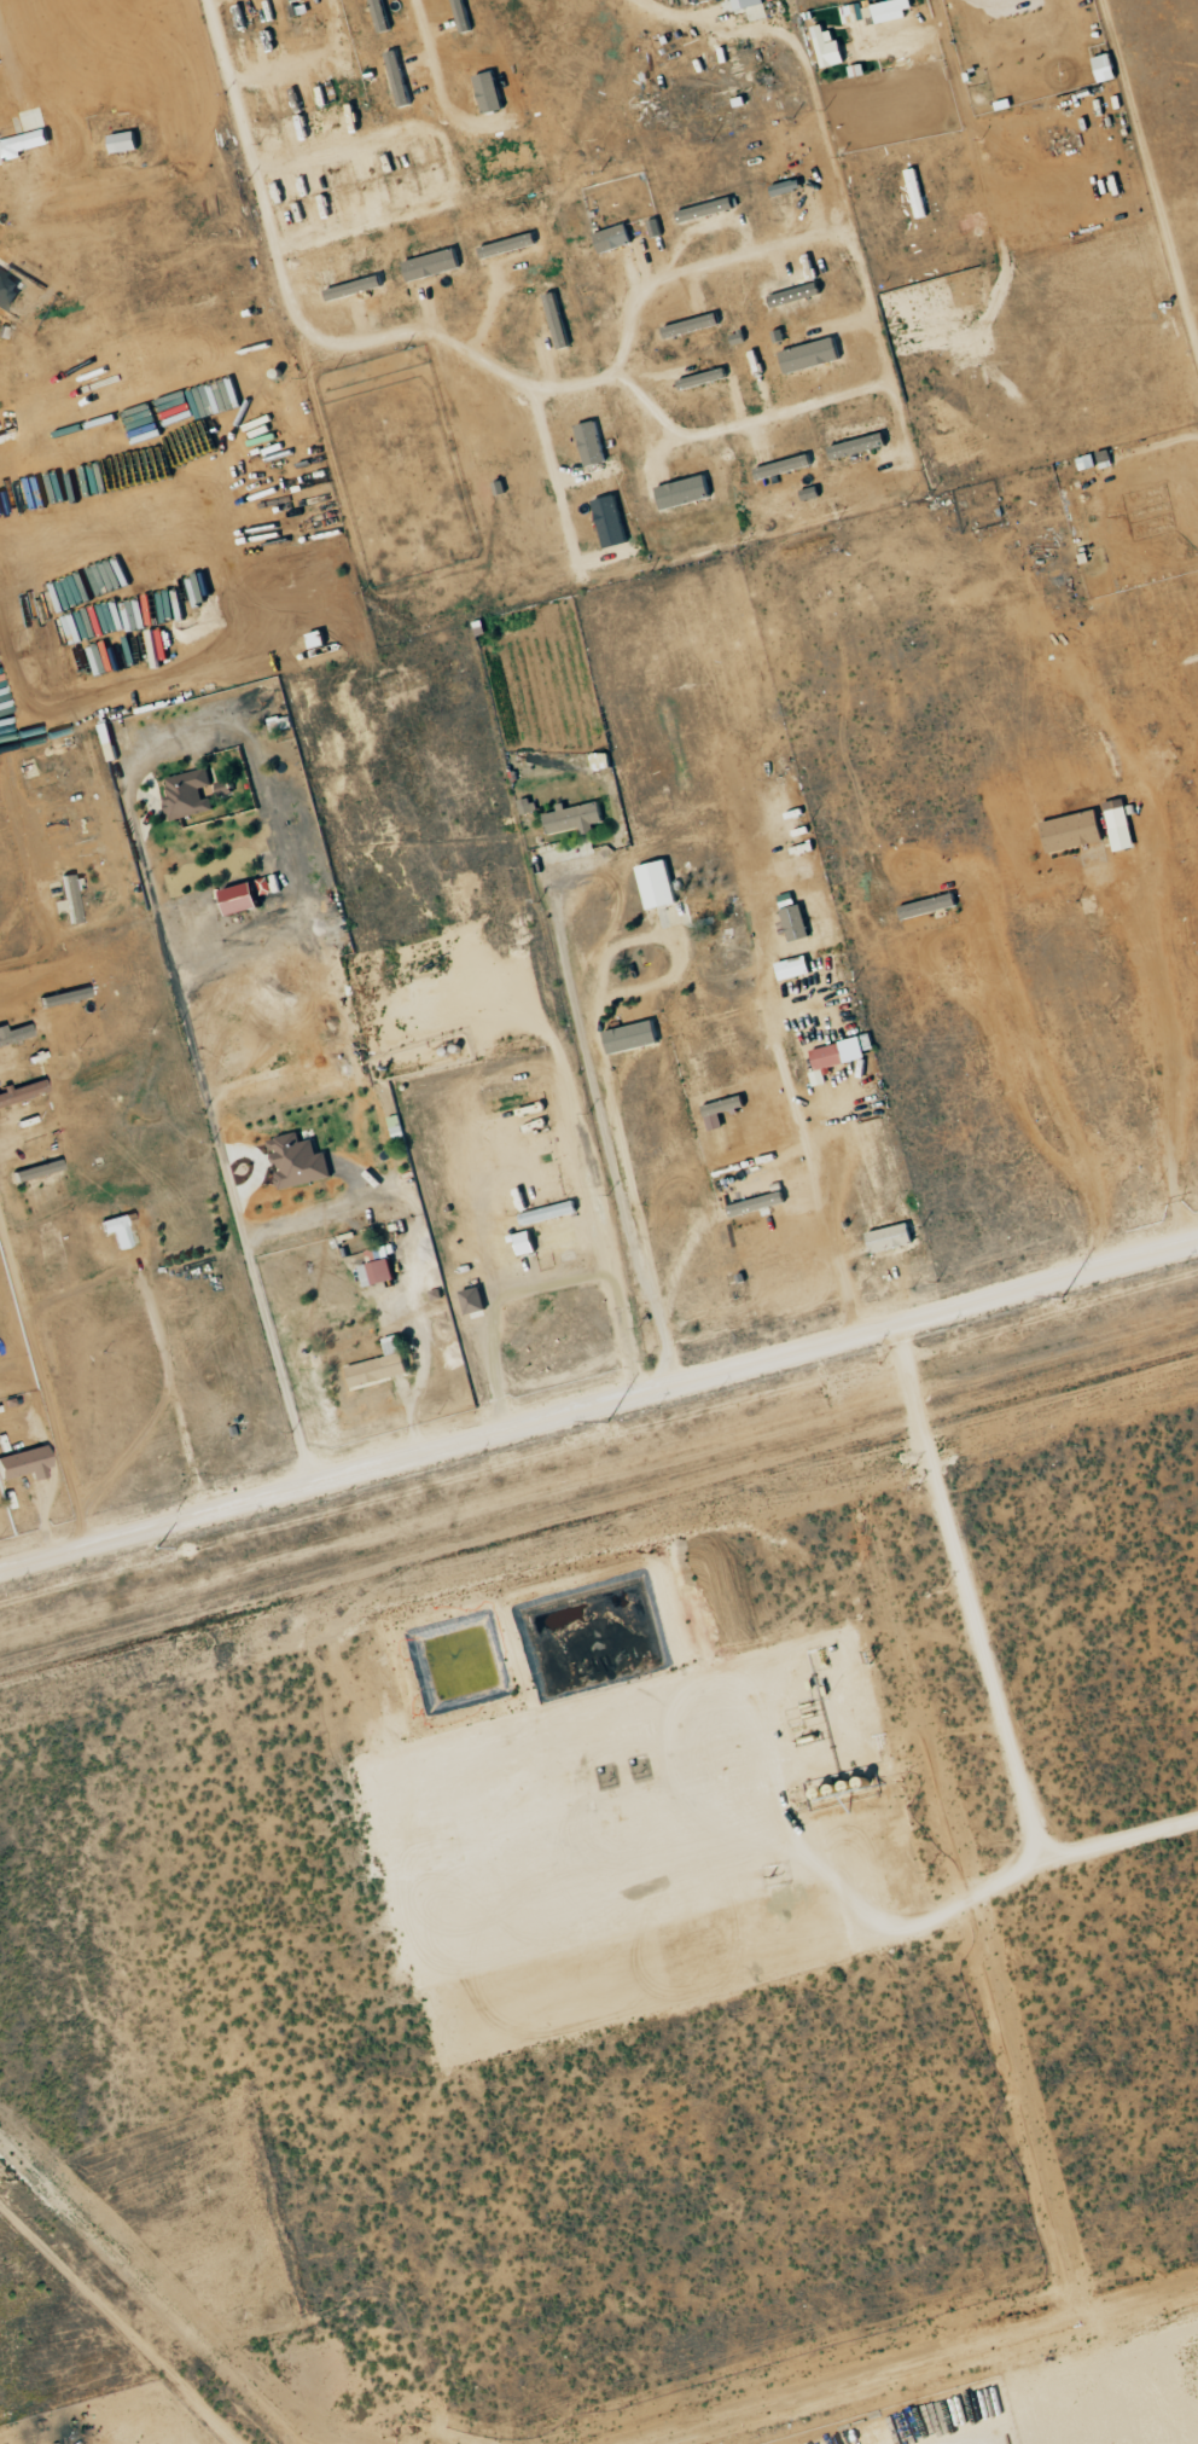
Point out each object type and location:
building: (750, 4)
building: (382, 16)
building: (826, 45)
building: (1107, 66)
building: (400, 79)
building: (492, 92)
building: (127, 141)
building: (23, 145)
building: (789, 186)
building: (616, 238)
building: (435, 265)
building: (8, 290)
building: (793, 290)
building: (694, 325)
building: (814, 355)
building: (593, 443)
building: (861, 446)
building: (786, 466)
building: (686, 492)
building: (612, 522)
building: (320, 638)
building: (603, 760)
building: (227, 786)
building: (187, 793)
building: (528, 805)
building: (576, 818)
building: (1121, 824)
building: (1075, 831)
building: (659, 884)
building: (249, 895)
building: (71, 898)
building: (930, 905)
building: (798, 922)
building: (796, 966)
road: (599, 1016)
road: (542, 1018)
building: (13, 1032)
building: (633, 1037)
building: (834, 1056)
road: (203, 1082)
building: (22, 1091)
road: (599, 1107)
building: (299, 1161)
road: (528, 1168)
road: (813, 1169)
building: (760, 1203)
building: (551, 1212)
building: (117, 1230)
building: (892, 1237)
road: (419, 1240)
building: (528, 1243)
building: (379, 1267)
road: (554, 1278)
building: (476, 1300)
power tower: (1051, 1300)
building: (382, 1365)
road: (599, 1404)
power tower: (598, 1426)
building: (25, 1463)
power tower: (143, 1551)
road: (982, 1667)
road: (116, 2324)

